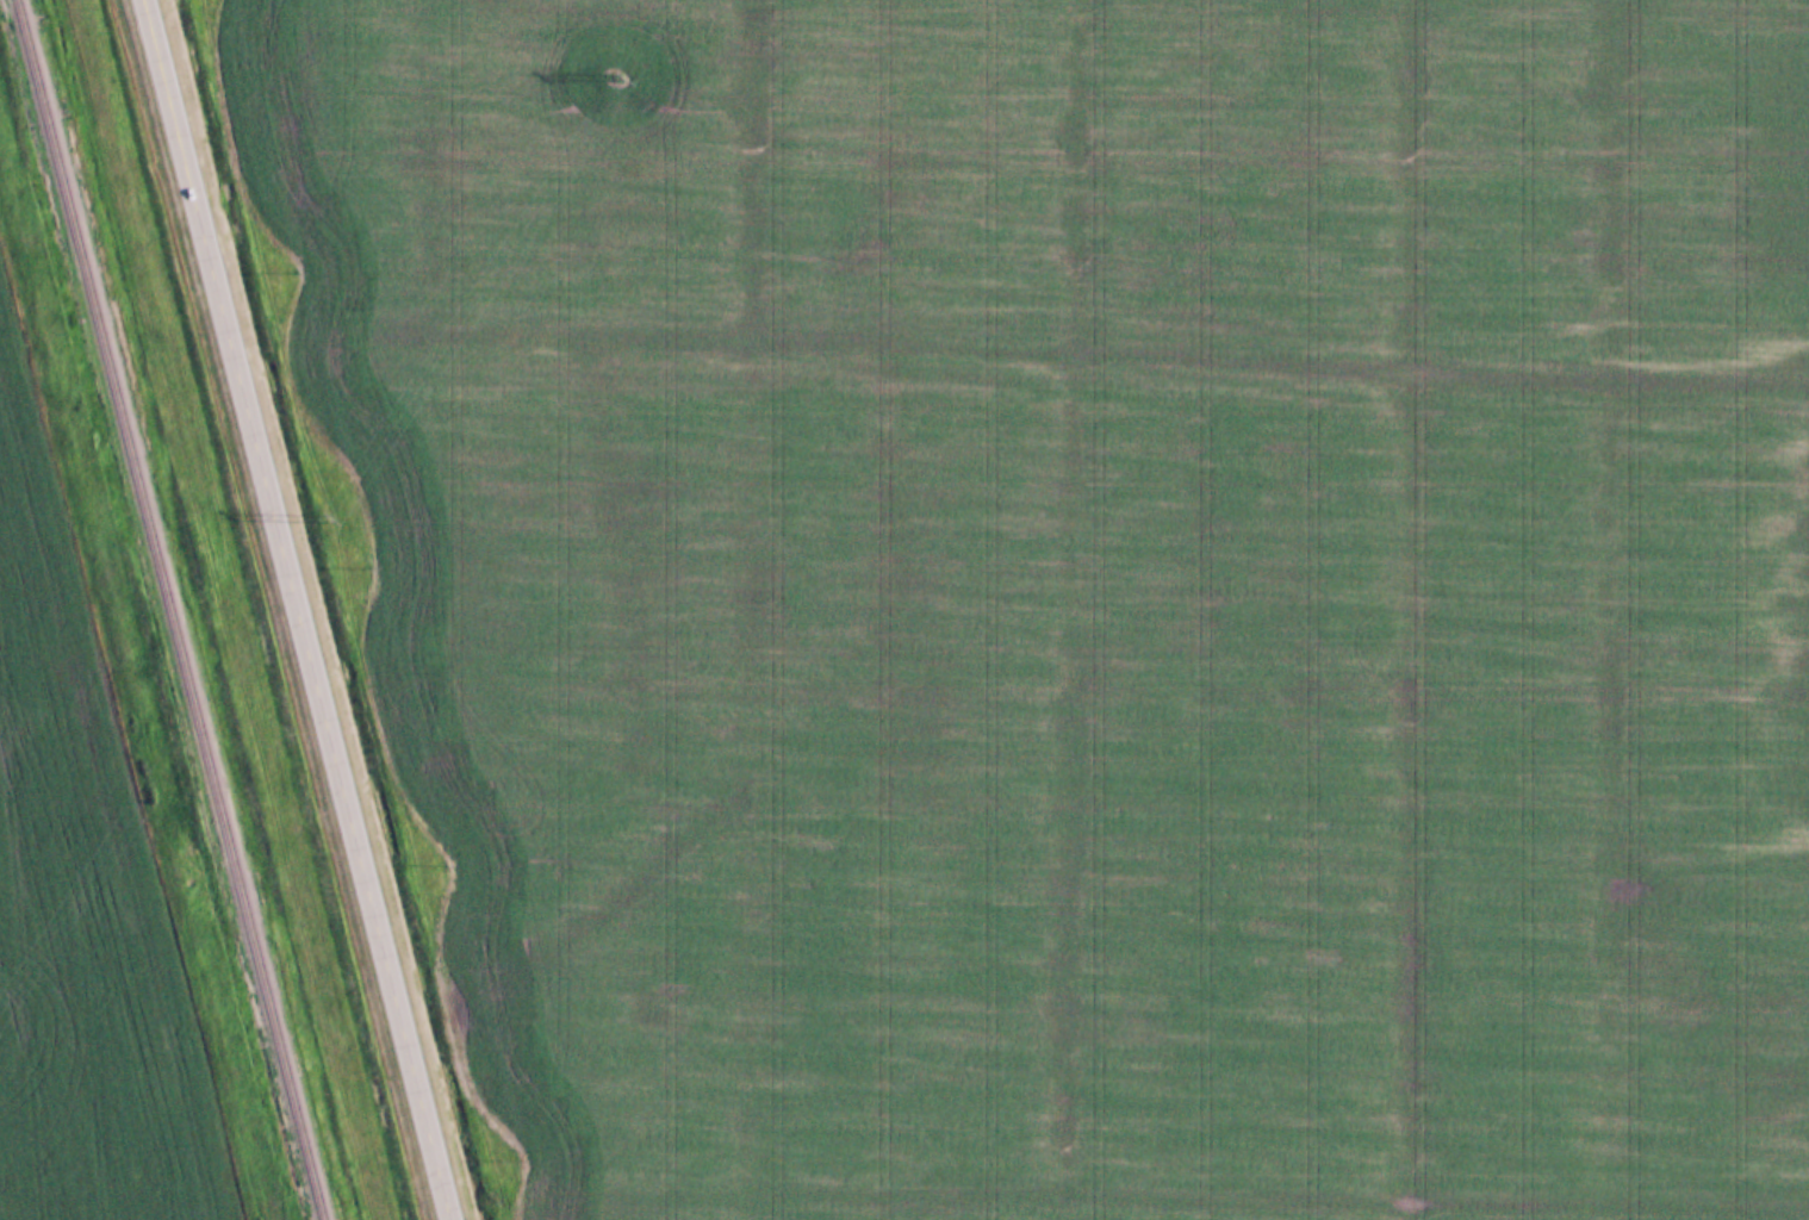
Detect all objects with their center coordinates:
power tower: (638, 76)
power tower: (348, 515)
railway: (166, 610)
road: (298, 610)

